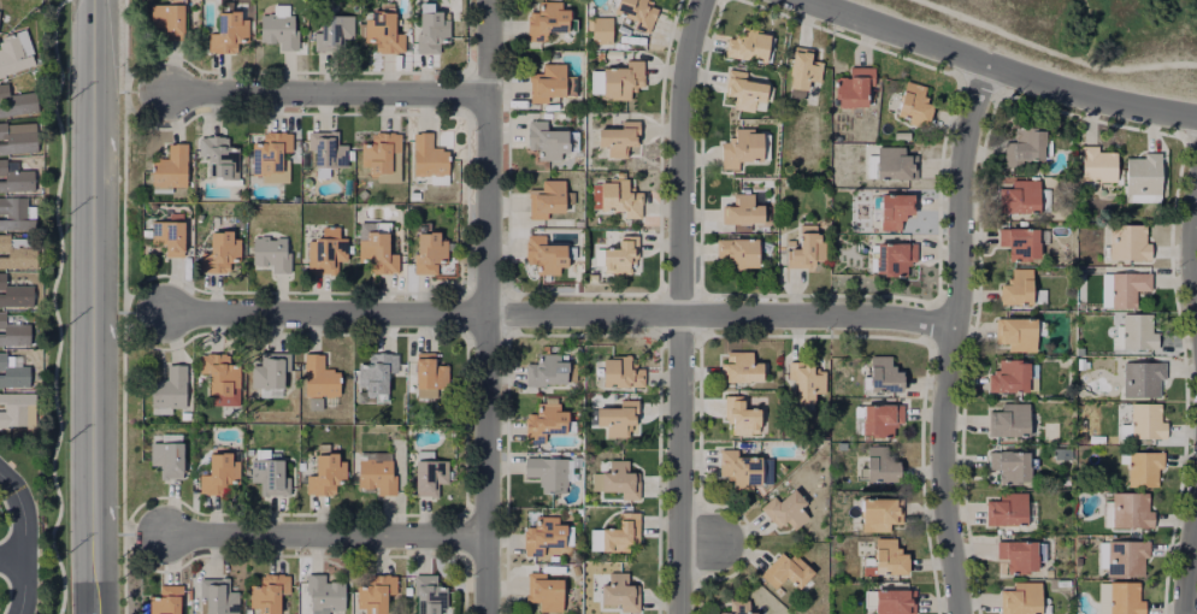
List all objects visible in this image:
building: (638, 14)
building: (170, 16)
building: (549, 22)
road: (101, 23)
building: (282, 23)
building: (435, 25)
building: (387, 26)
building: (228, 29)
building: (335, 29)
building: (597, 33)
building: (751, 46)
road: (489, 52)
building: (16, 53)
road: (1052, 53)
road: (996, 67)
building: (806, 78)
building: (595, 82)
building: (626, 82)
building: (850, 84)
building: (552, 87)
building: (747, 89)
road: (324, 94)
building: (16, 100)
building: (913, 104)
building: (18, 137)
building: (623, 142)
building: (1026, 142)
building: (554, 143)
building: (330, 144)
building: (384, 149)
building: (745, 150)
building: (220, 153)
building: (275, 153)
building: (431, 157)
building: (894, 159)
building: (1096, 163)
building: (171, 166)
building: (1144, 175)
building: (16, 178)
building: (1019, 191)
building: (550, 200)
building: (619, 200)
building: (892, 205)
building: (747, 212)
building: (14, 213)
building: (172, 234)
road: (1193, 236)
building: (1019, 237)
building: (1128, 238)
building: (804, 244)
building: (222, 248)
building: (329, 248)
building: (379, 248)
building: (432, 248)
building: (275, 249)
building: (892, 253)
building: (17, 254)
building: (741, 255)
building: (547, 256)
building: (618, 261)
building: (1016, 283)
building: (1127, 283)
building: (1104, 290)
building: (14, 294)
road: (680, 305)
road: (558, 315)
building: (1137, 327)
road: (102, 330)
building: (1015, 330)
building: (13, 331)
road: (950, 337)
road: (484, 354)
building: (739, 364)
building: (543, 367)
building: (619, 368)
building: (13, 370)
building: (379, 370)
building: (883, 370)
building: (273, 371)
building: (431, 372)
building: (1009, 374)
building: (223, 376)
building: (806, 376)
building: (1142, 376)
building: (323, 379)
building: (170, 388)
building: (17, 408)
building: (739, 413)
building: (614, 414)
building: (877, 415)
building: (1008, 415)
building: (1146, 418)
building: (546, 419)
building: (170, 451)
building: (883, 459)
building: (1009, 461)
building: (1143, 464)
building: (738, 465)
building: (379, 470)
building: (547, 470)
building: (222, 471)
building: (329, 471)
building: (432, 472)
building: (272, 473)
building: (619, 476)
building: (786, 506)
building: (1007, 506)
building: (1130, 507)
building: (881, 510)
building: (619, 530)
building: (541, 532)
road: (328, 535)
building: (594, 539)
road: (701, 541)
road: (24, 542)
building: (1016, 551)
building: (889, 554)
building: (1126, 554)
road: (12, 557)
road: (1189, 565)
building: (785, 567)
building: (543, 589)
building: (619, 589)
building: (271, 590)
building: (326, 591)
building: (378, 591)
building: (432, 591)
building: (220, 595)
building: (1020, 595)
building: (169, 598)
building: (894, 598)
building: (1122, 598)
building: (737, 607)

